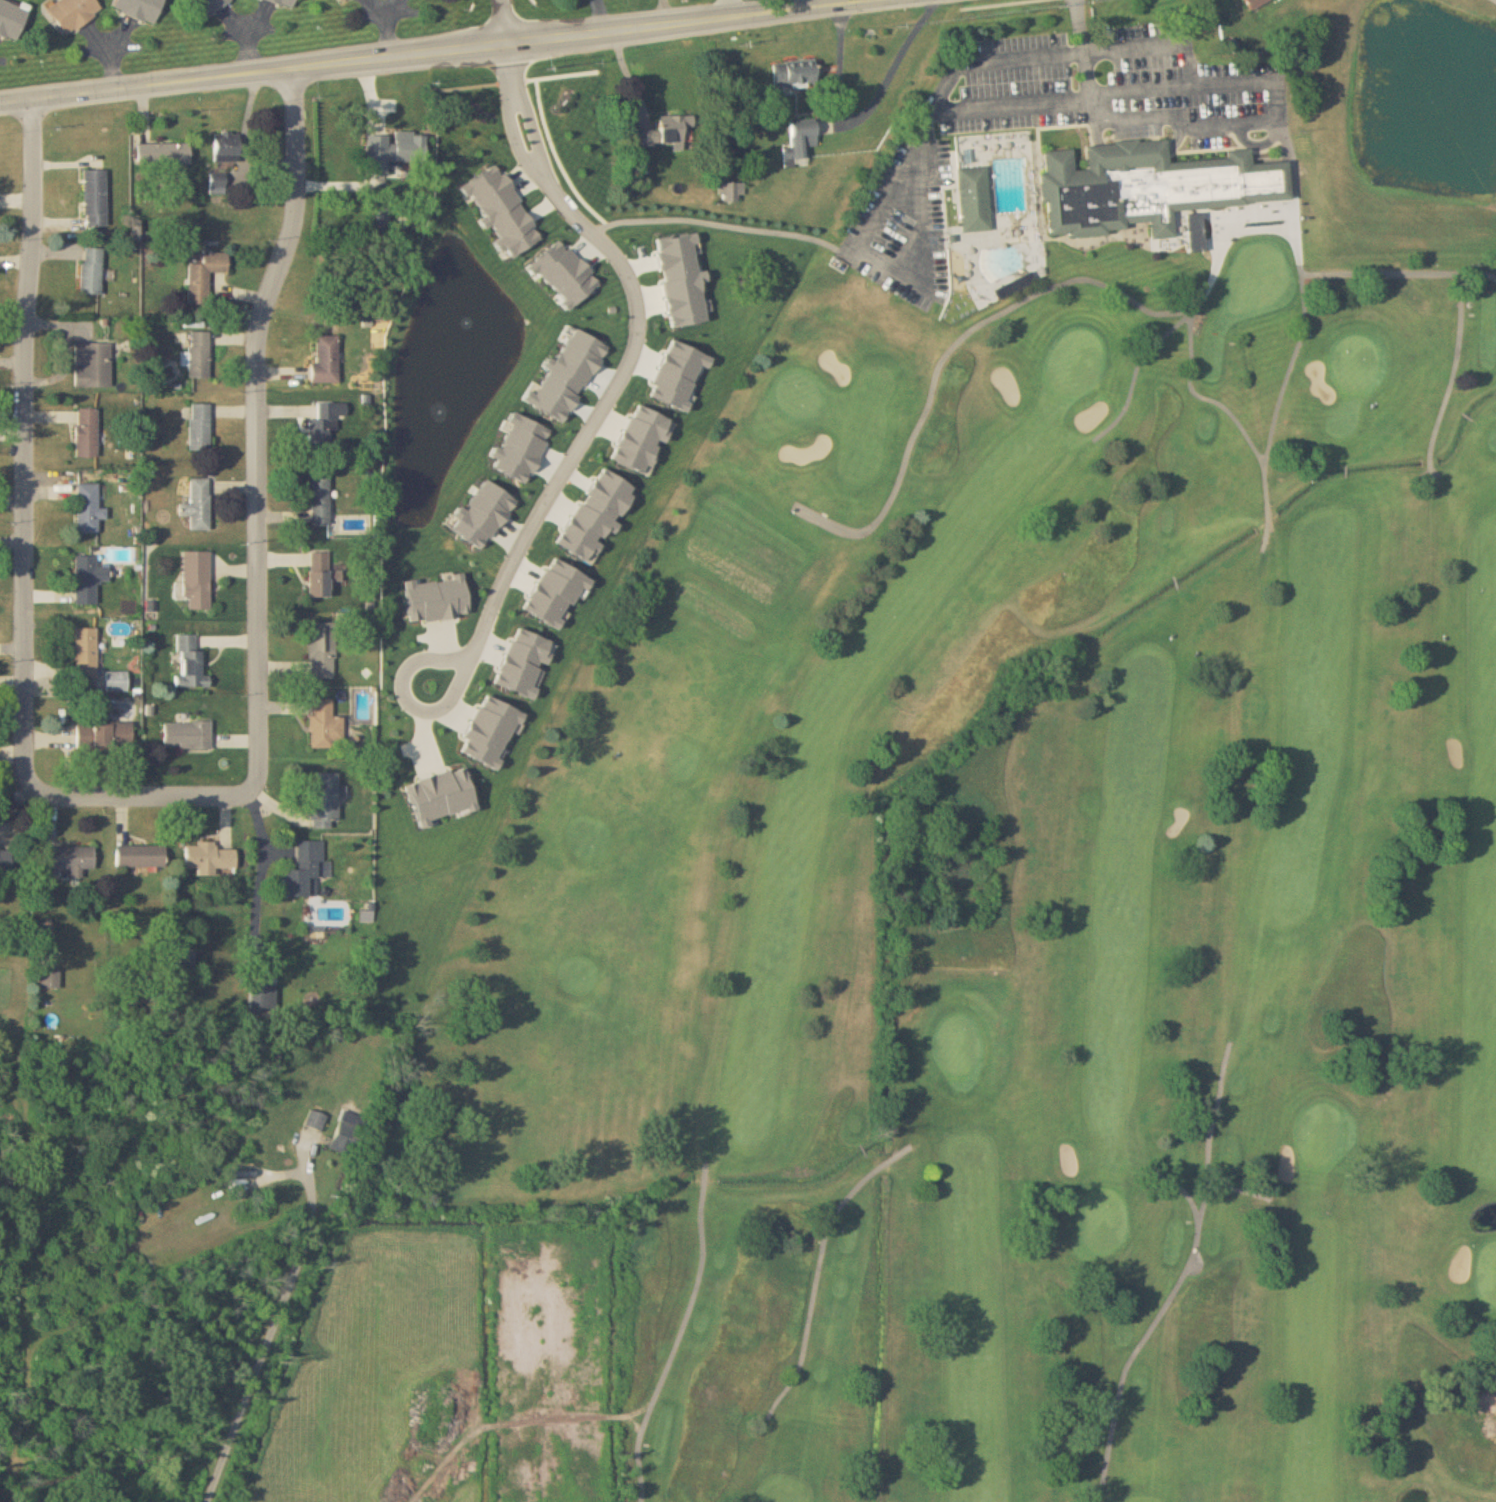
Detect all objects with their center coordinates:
building: (342, 1)
building: (286, 3)
building: (1256, 3)
building: (208, 6)
road: (732, 8)
building: (141, 9)
building: (73, 13)
building: (12, 20)
road: (502, 20)
road: (1078, 23)
road: (1163, 37)
road: (437, 49)
road: (839, 63)
road: (893, 68)
building: (795, 72)
road: (1278, 85)
road: (1095, 92)
road: (1017, 97)
road: (1145, 115)
road: (1262, 119)
parking lot: (1058, 122)
building: (667, 131)
building: (801, 141)
building: (229, 147)
building: (402, 148)
building: (164, 154)
building: (1150, 180)
building: (218, 184)
road: (890, 184)
building: (731, 192)
building: (972, 192)
building: (95, 198)
park: (1261, 252)
building: (92, 271)
building: (205, 276)
building: (1014, 278)
building: (199, 355)
building: (328, 358)
park: (1355, 362)
building: (92, 365)
road: (622, 367)
park: (835, 409)
road: (1469, 417)
building: (324, 424)
road: (255, 425)
building: (200, 426)
building: (87, 433)
road: (23, 442)
road: (1347, 472)
building: (319, 500)
building: (198, 505)
building: (89, 509)
building: (319, 574)
building: (88, 579)
building: (197, 579)
road: (1177, 582)
building: (322, 650)
building: (86, 652)
building: (191, 664)
building: (325, 724)
building: (188, 735)
building: (104, 736)
road: (140, 797)
building: (326, 801)
building: (141, 857)
building: (209, 859)
building: (70, 860)
building: (306, 872)
road: (262, 878)
park: (999, 880)
building: (188, 957)
building: (51, 979)
building: (260, 996)
building: (316, 1120)
park: (1325, 1136)
building: (345, 1138)
road: (866, 1152)
park: (1107, 1223)
road: (268, 1325)

